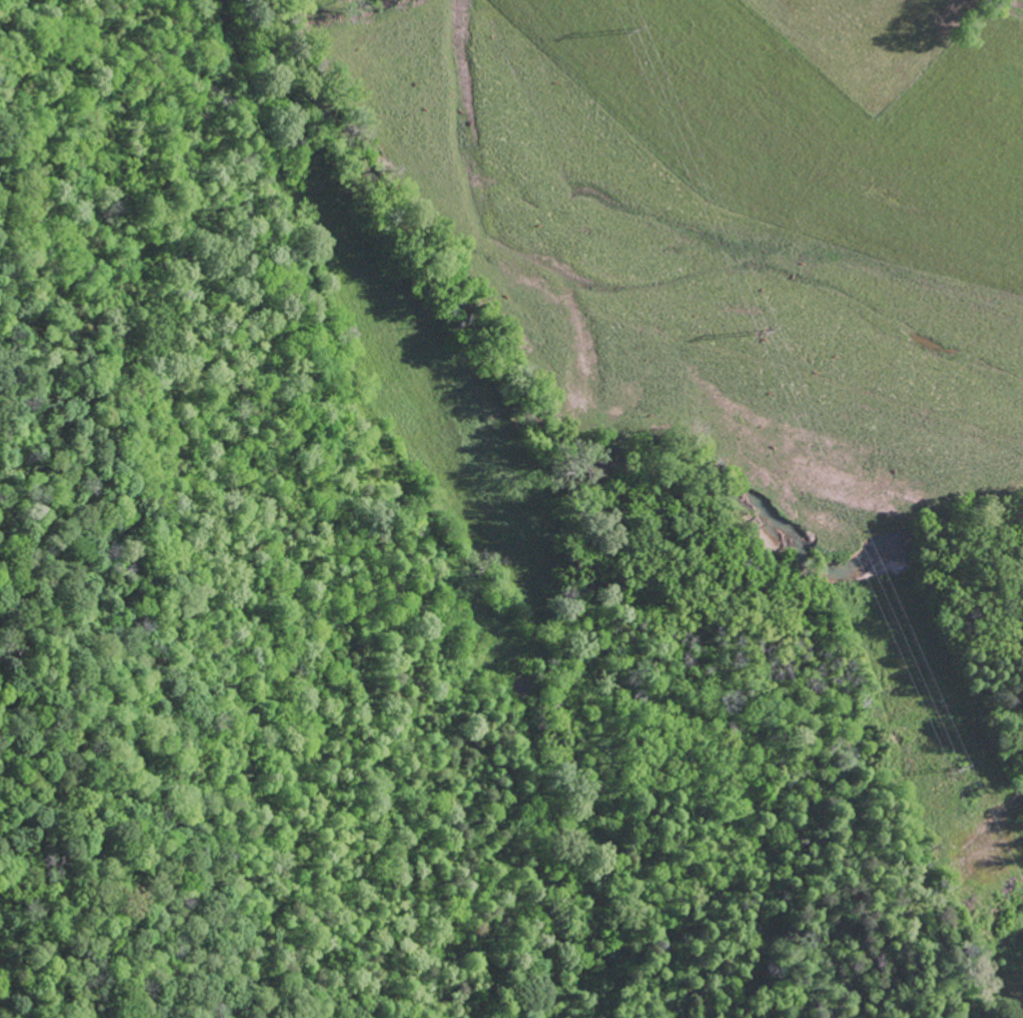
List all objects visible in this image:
power tower: (768, 333)
road: (445, 560)

